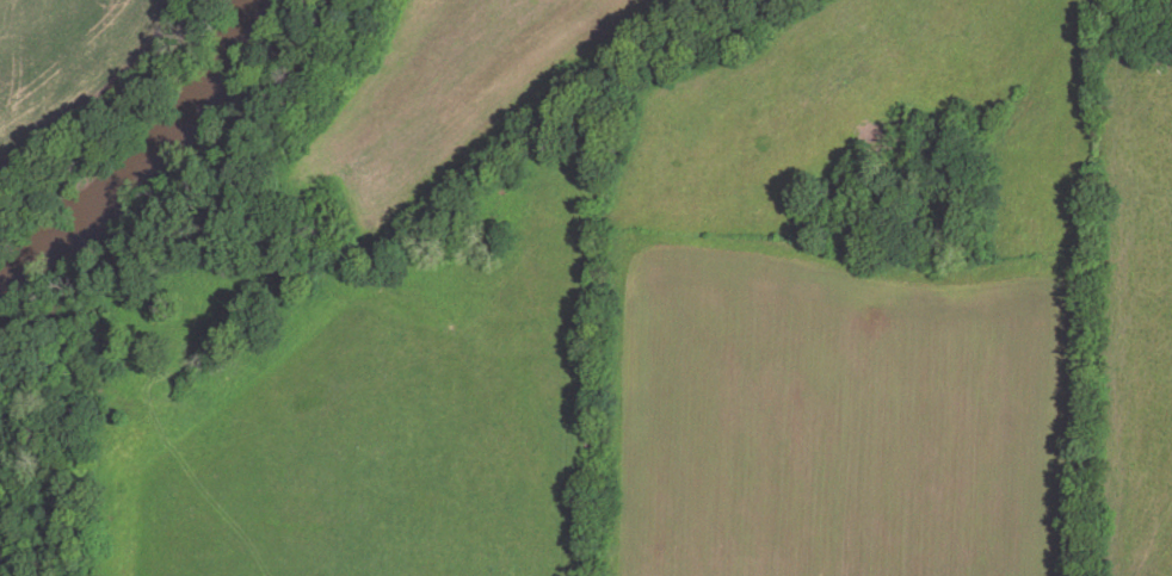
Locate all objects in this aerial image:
river: (150, 161)

